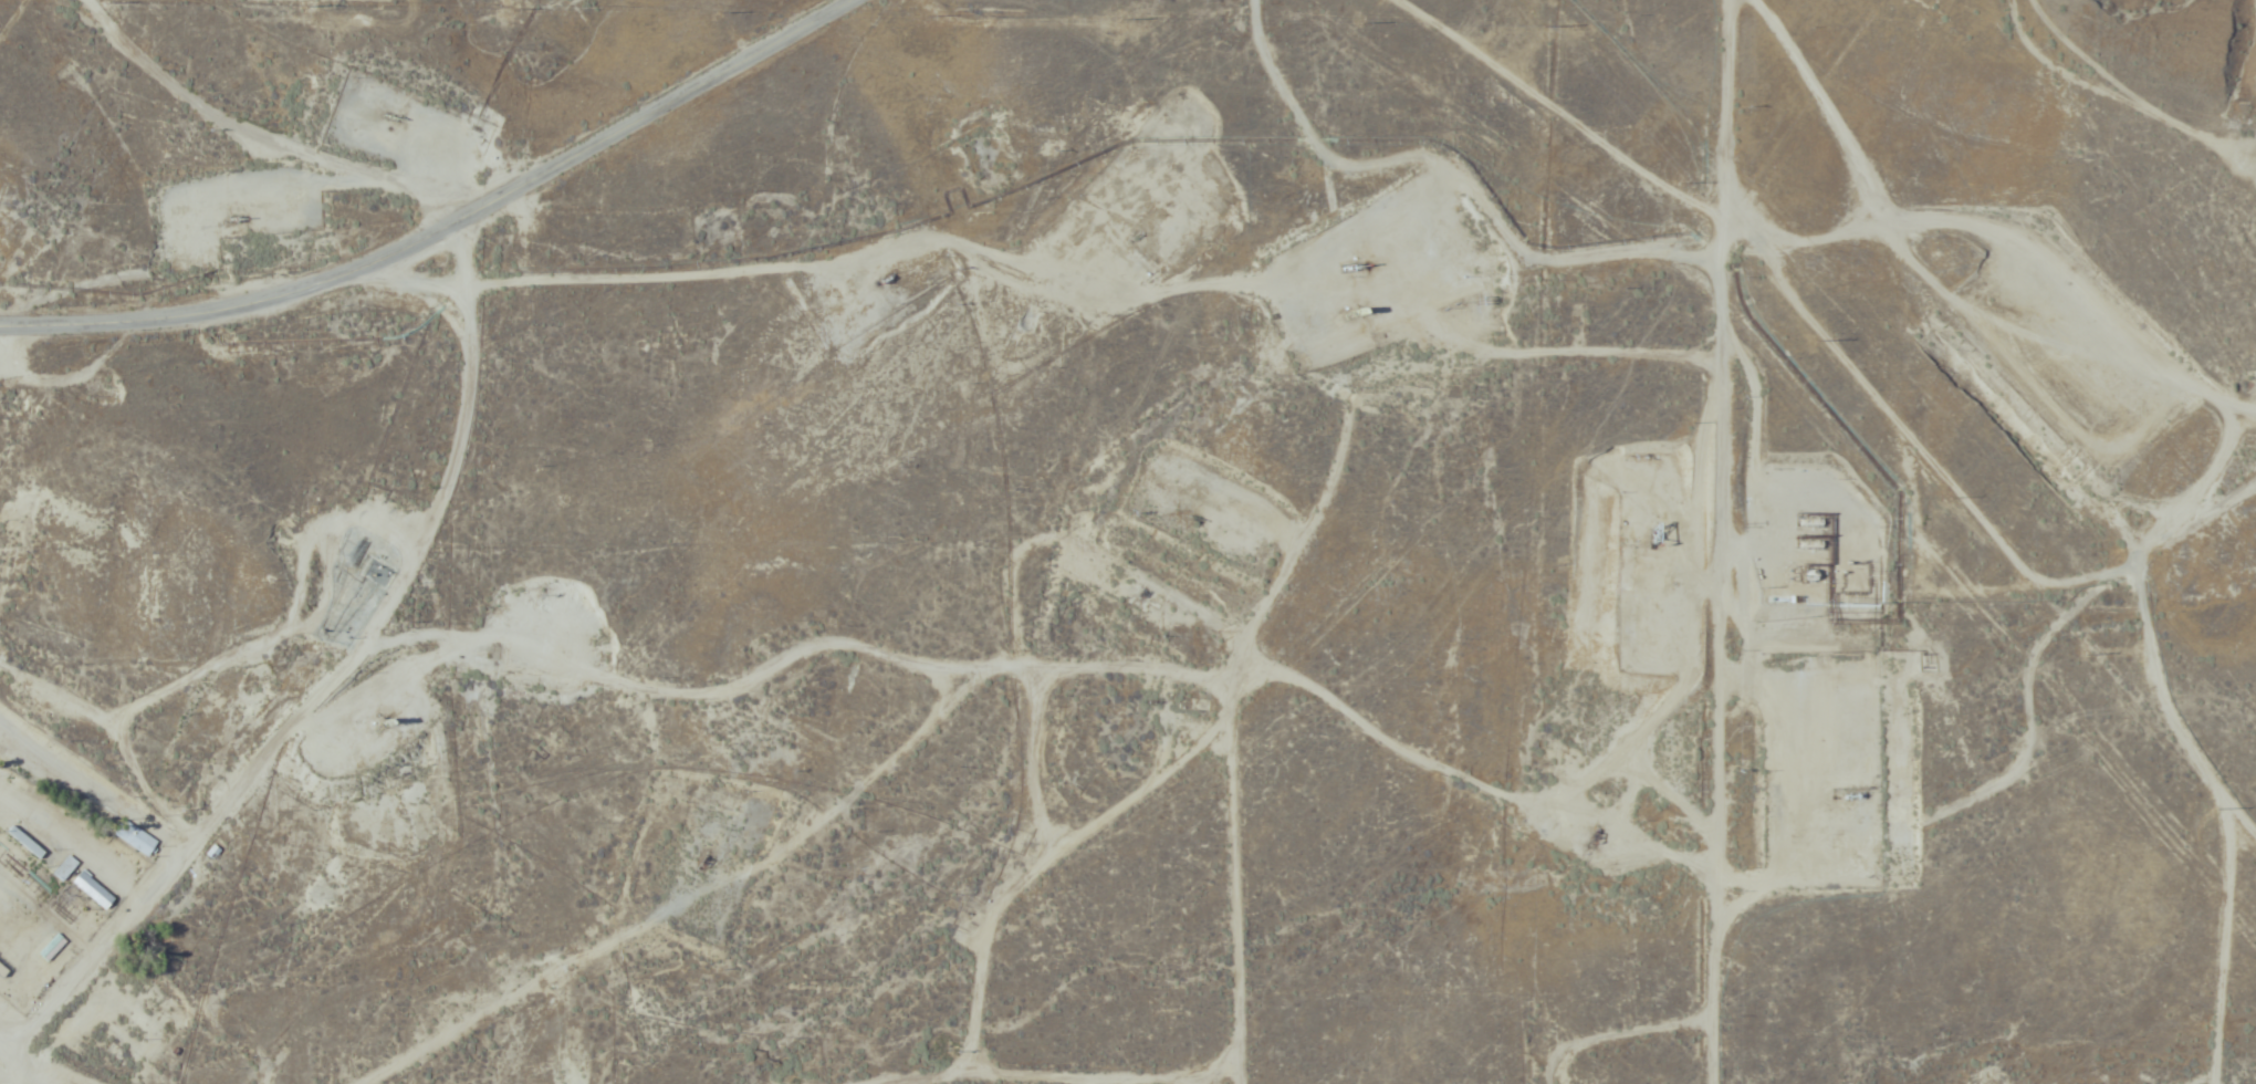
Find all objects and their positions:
road: (448, 226)
road: (312, 678)
building: (139, 840)
building: (70, 869)
building: (97, 893)
building: (58, 948)
building: (3, 972)
road: (15, 1028)

